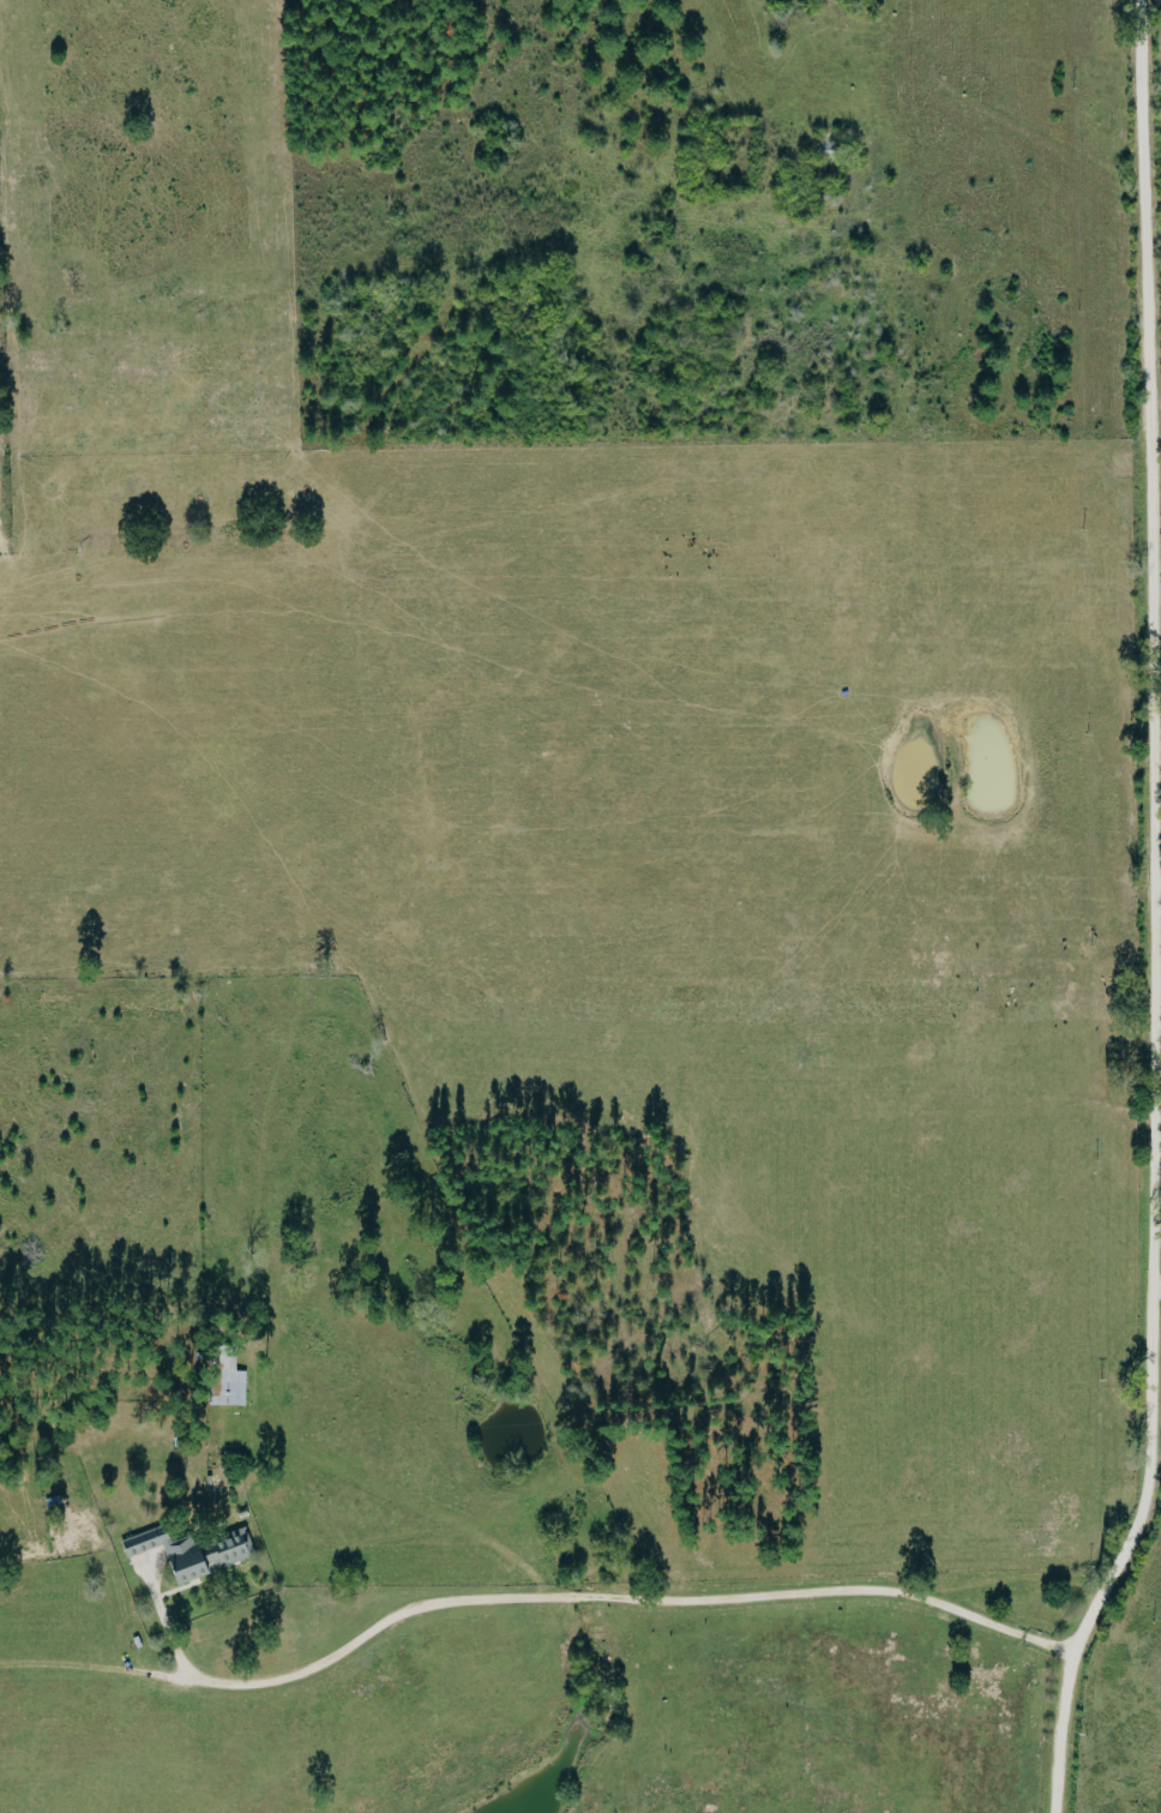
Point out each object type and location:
road: (1153, 915)
building: (229, 1381)
building: (157, 1554)
building: (222, 1557)
road: (573, 1595)

